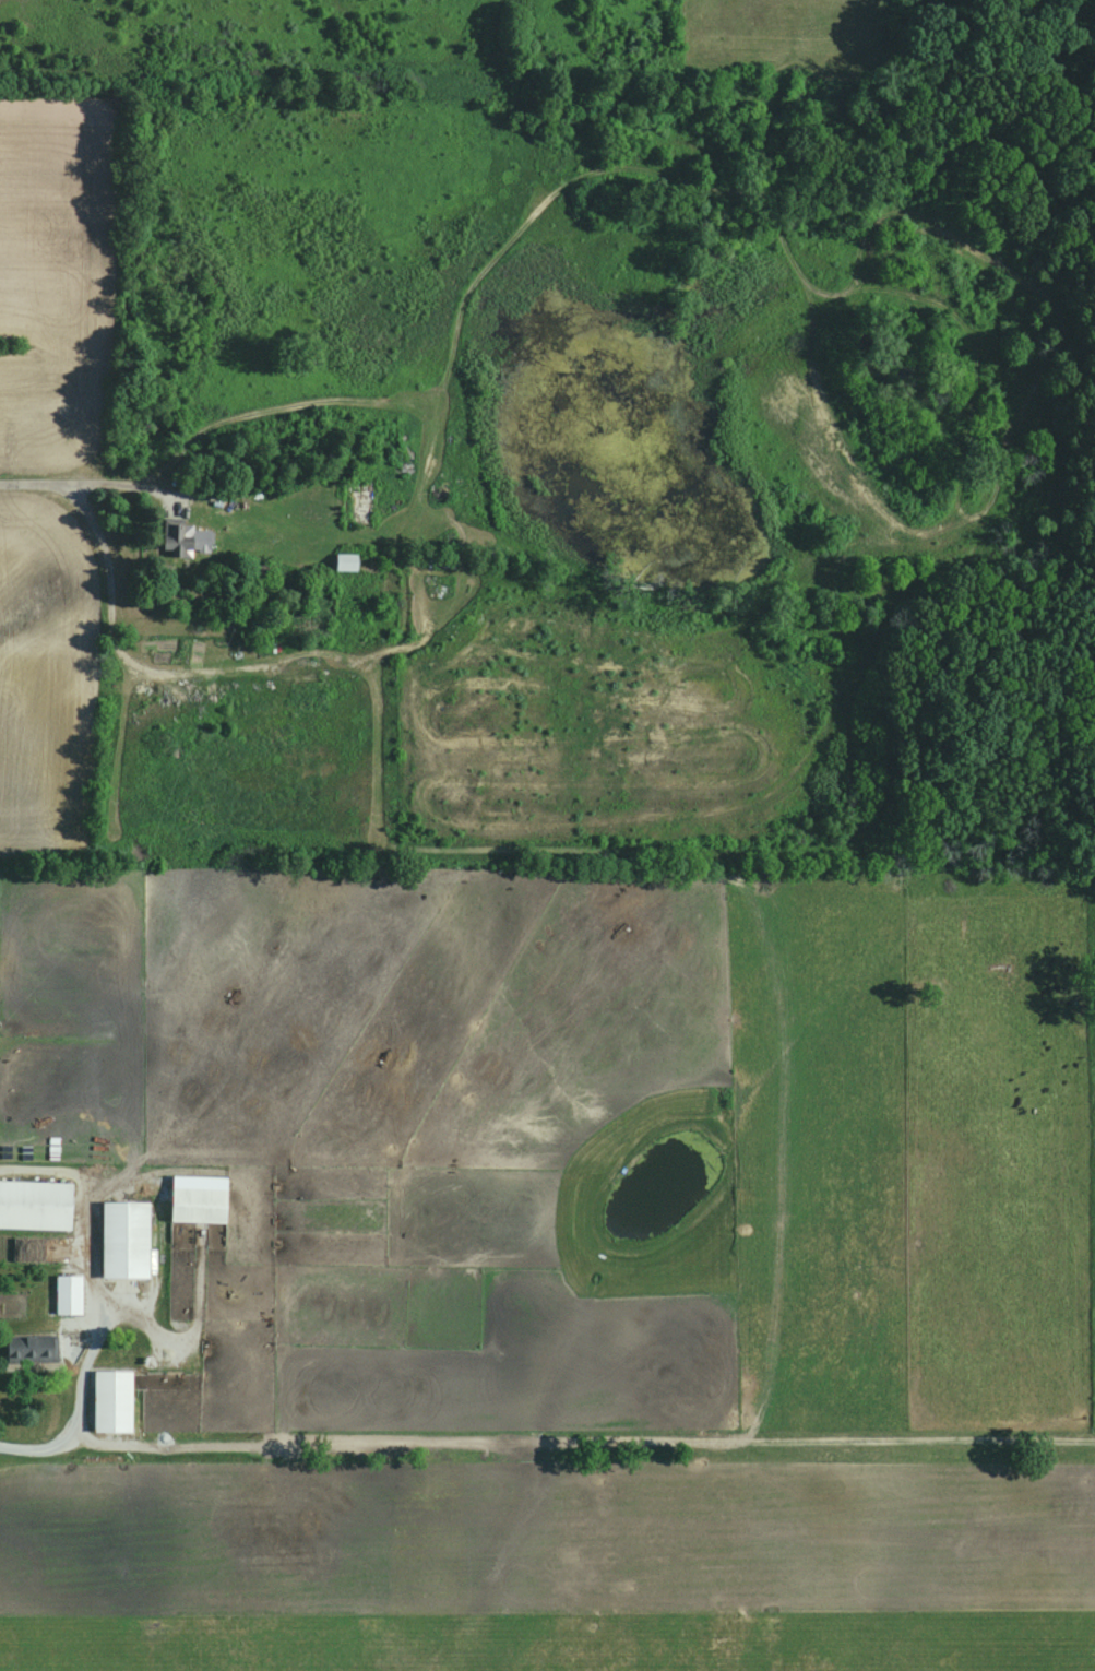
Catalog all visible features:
road: (392, 403)
road: (82, 488)
building: (355, 503)
building: (182, 540)
building: (346, 561)
building: (35, 1206)
building: (198, 1206)
building: (126, 1241)
building: (67, 1295)
building: (27, 1348)
building: (112, 1401)
road: (80, 1406)

